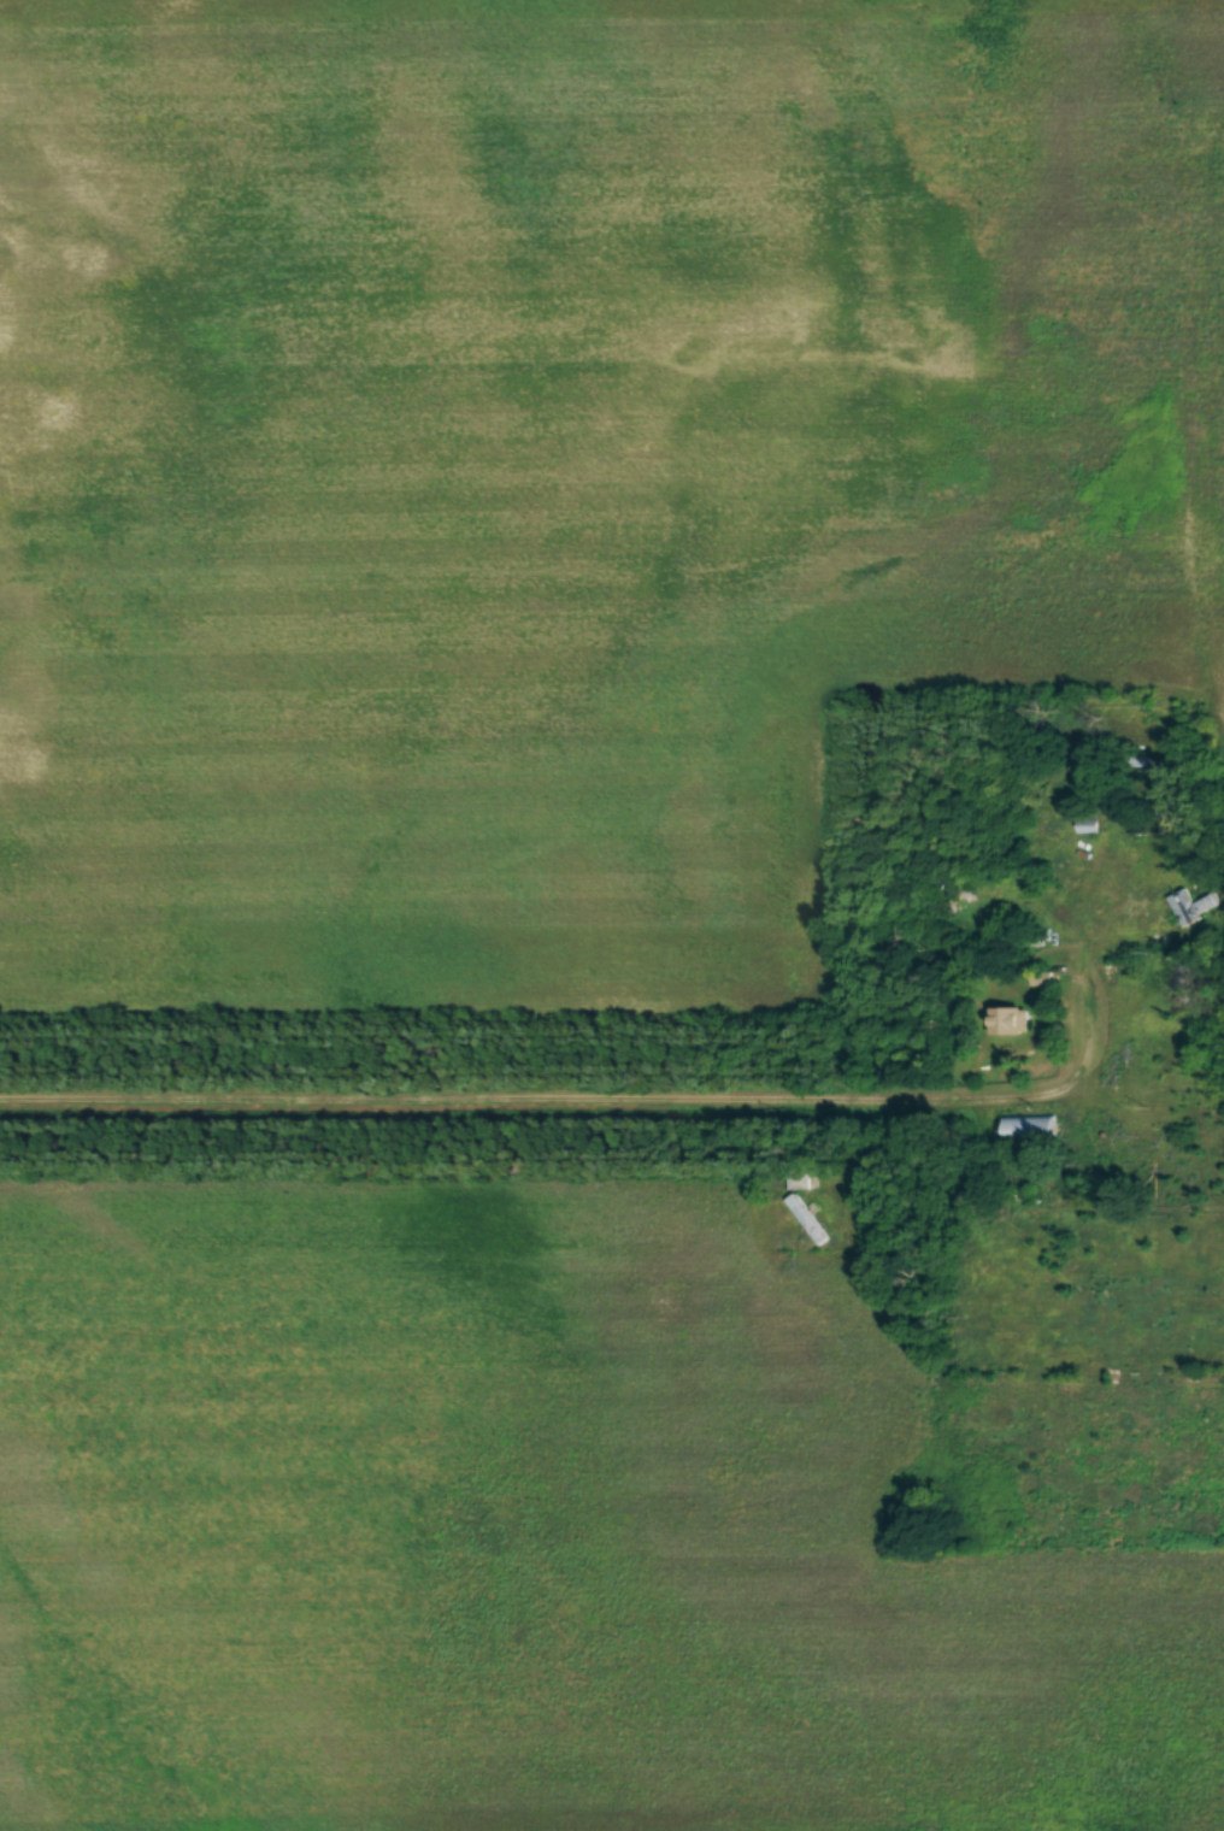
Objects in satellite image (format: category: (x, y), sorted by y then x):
building: (1135, 761)
building: (1190, 907)
building: (1007, 1020)
road: (571, 1108)
building: (1026, 1129)
building: (796, 1181)
building: (805, 1219)

